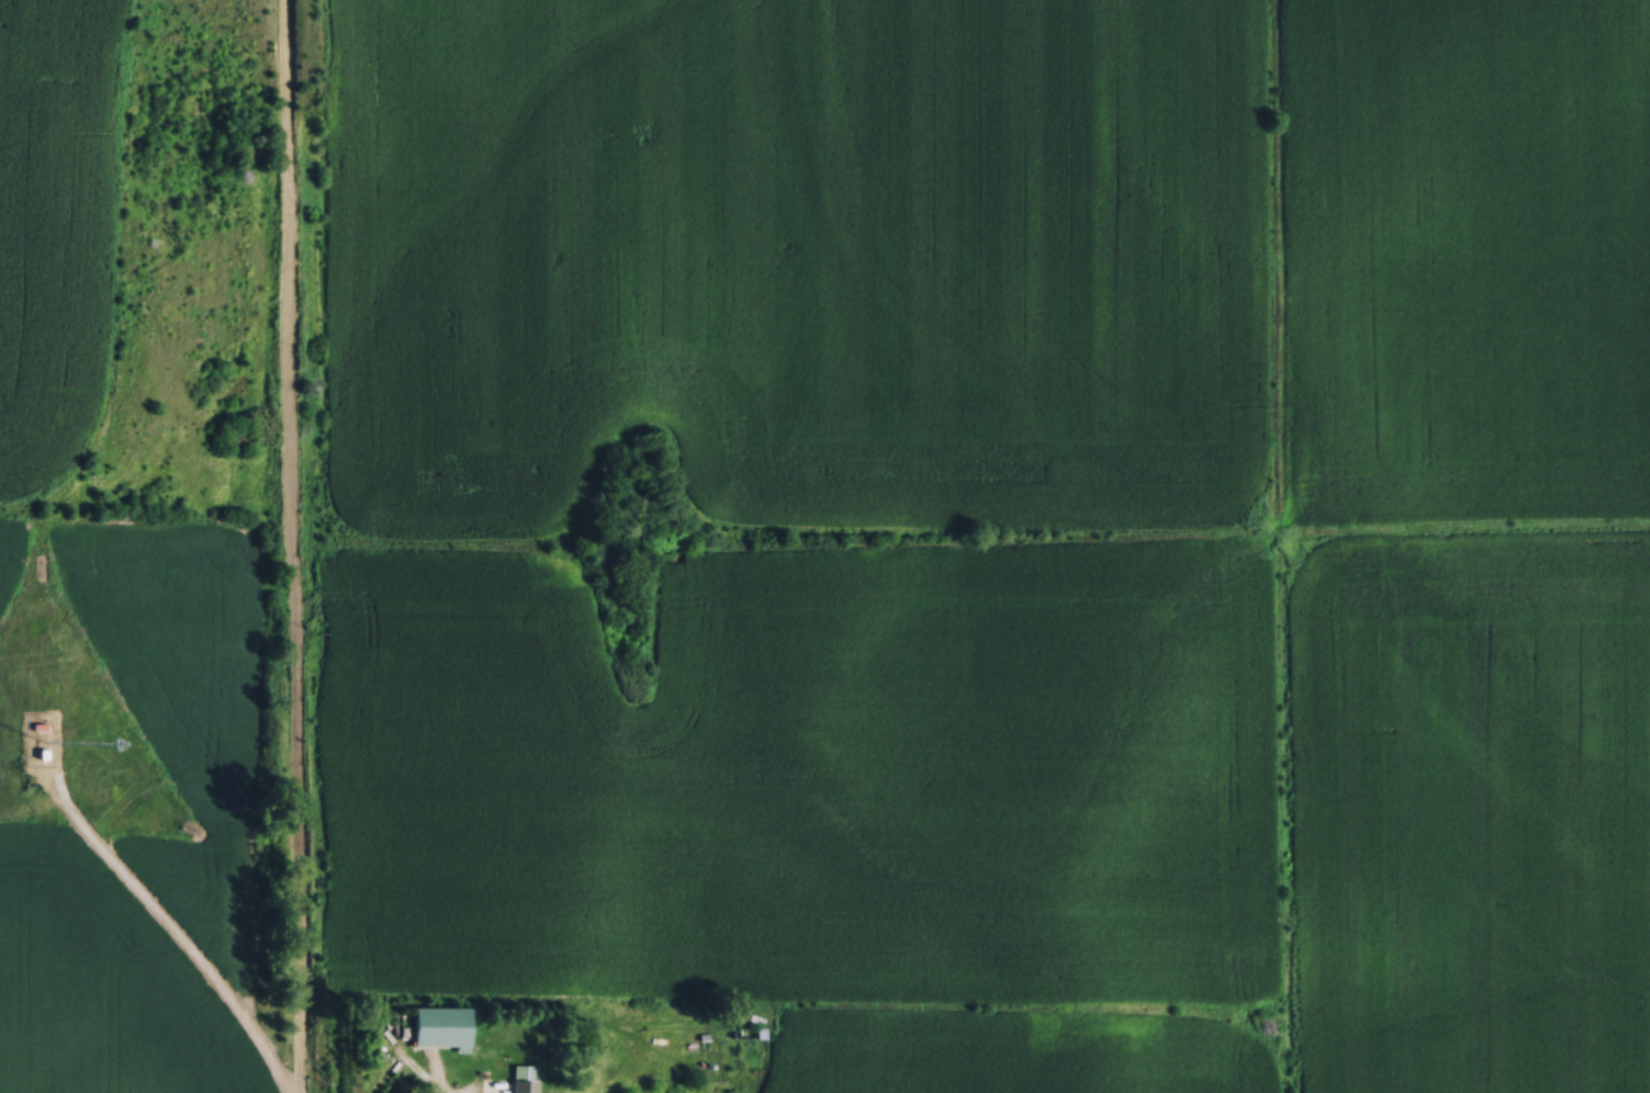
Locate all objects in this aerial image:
road: (290, 546)
building: (439, 1023)
building: (748, 1029)
building: (521, 1084)

